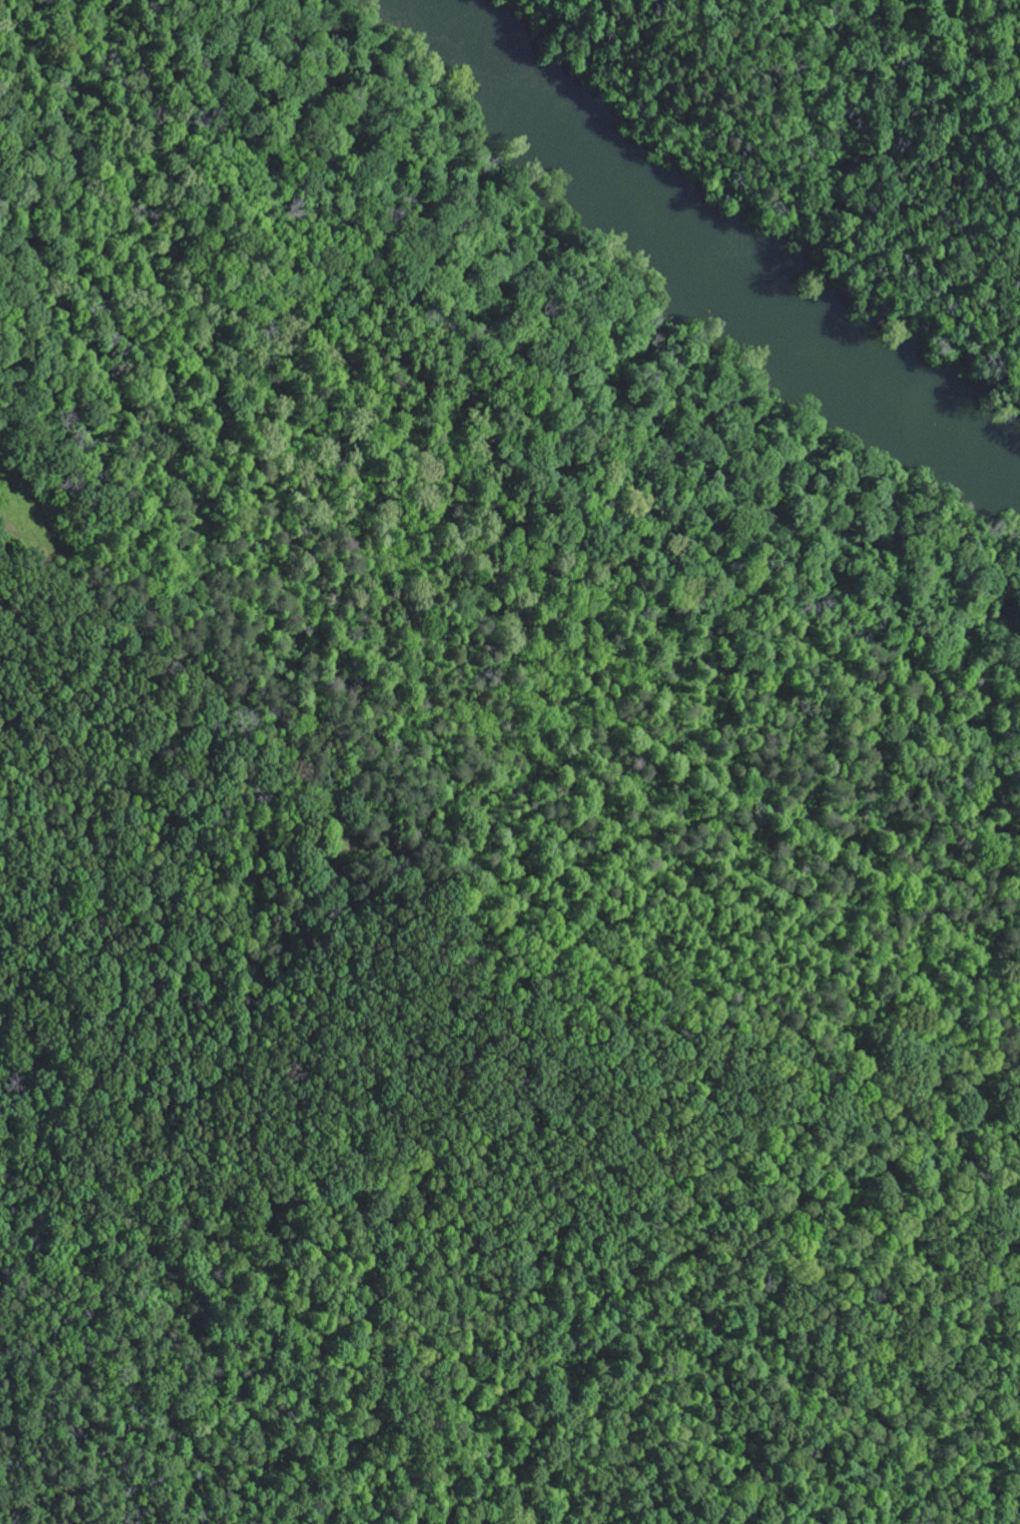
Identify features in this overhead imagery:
river: (711, 255)

